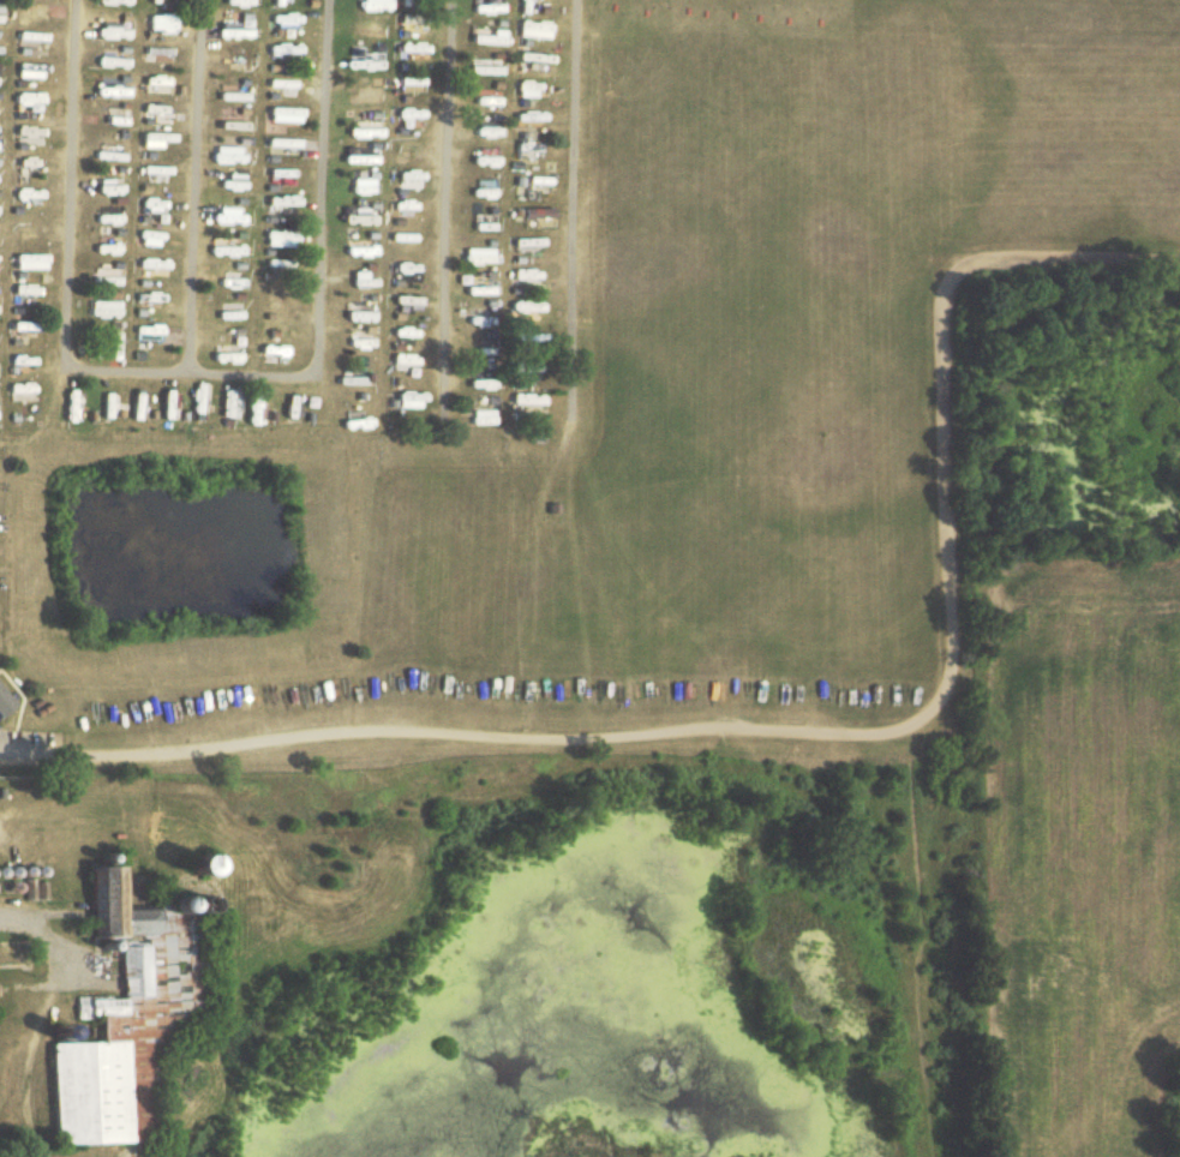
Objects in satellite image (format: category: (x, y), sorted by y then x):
building: (271, 2)
building: (405, 5)
building: (369, 6)
building: (120, 22)
building: (161, 23)
building: (282, 23)
building: (531, 30)
building: (238, 32)
building: (487, 37)
building: (409, 52)
building: (162, 53)
building: (114, 62)
building: (32, 70)
building: (408, 83)
building: (282, 85)
building: (527, 89)
building: (235, 94)
building: (363, 98)
building: (367, 128)
building: (483, 132)
building: (158, 138)
building: (283, 144)
building: (528, 150)
building: (114, 152)
building: (234, 154)
building: (413, 175)
road: (203, 186)
building: (115, 187)
building: (31, 193)
road: (448, 206)
road: (571, 208)
building: (485, 226)
building: (289, 235)
building: (526, 246)
building: (240, 247)
building: (366, 250)
building: (481, 256)
building: (31, 260)
building: (286, 262)
building: (166, 266)
building: (369, 281)
building: (483, 288)
building: (158, 307)
building: (116, 308)
building: (244, 312)
building: (363, 314)
building: (480, 318)
building: (162, 331)
building: (409, 334)
building: (361, 336)
building: (2, 340)
building: (128, 340)
building: (527, 341)
building: (485, 348)
building: (281, 353)
building: (240, 356)
building: (409, 364)
building: (527, 370)
building: (484, 372)
road: (205, 373)
building: (212, 397)
building: (412, 400)
building: (523, 401)
building: (185, 403)
building: (85, 407)
building: (121, 408)
building: (2, 410)
building: (154, 412)
building: (481, 418)
building: (5, 700)
road: (805, 732)
building: (108, 905)
road: (47, 933)
building: (109, 1066)

